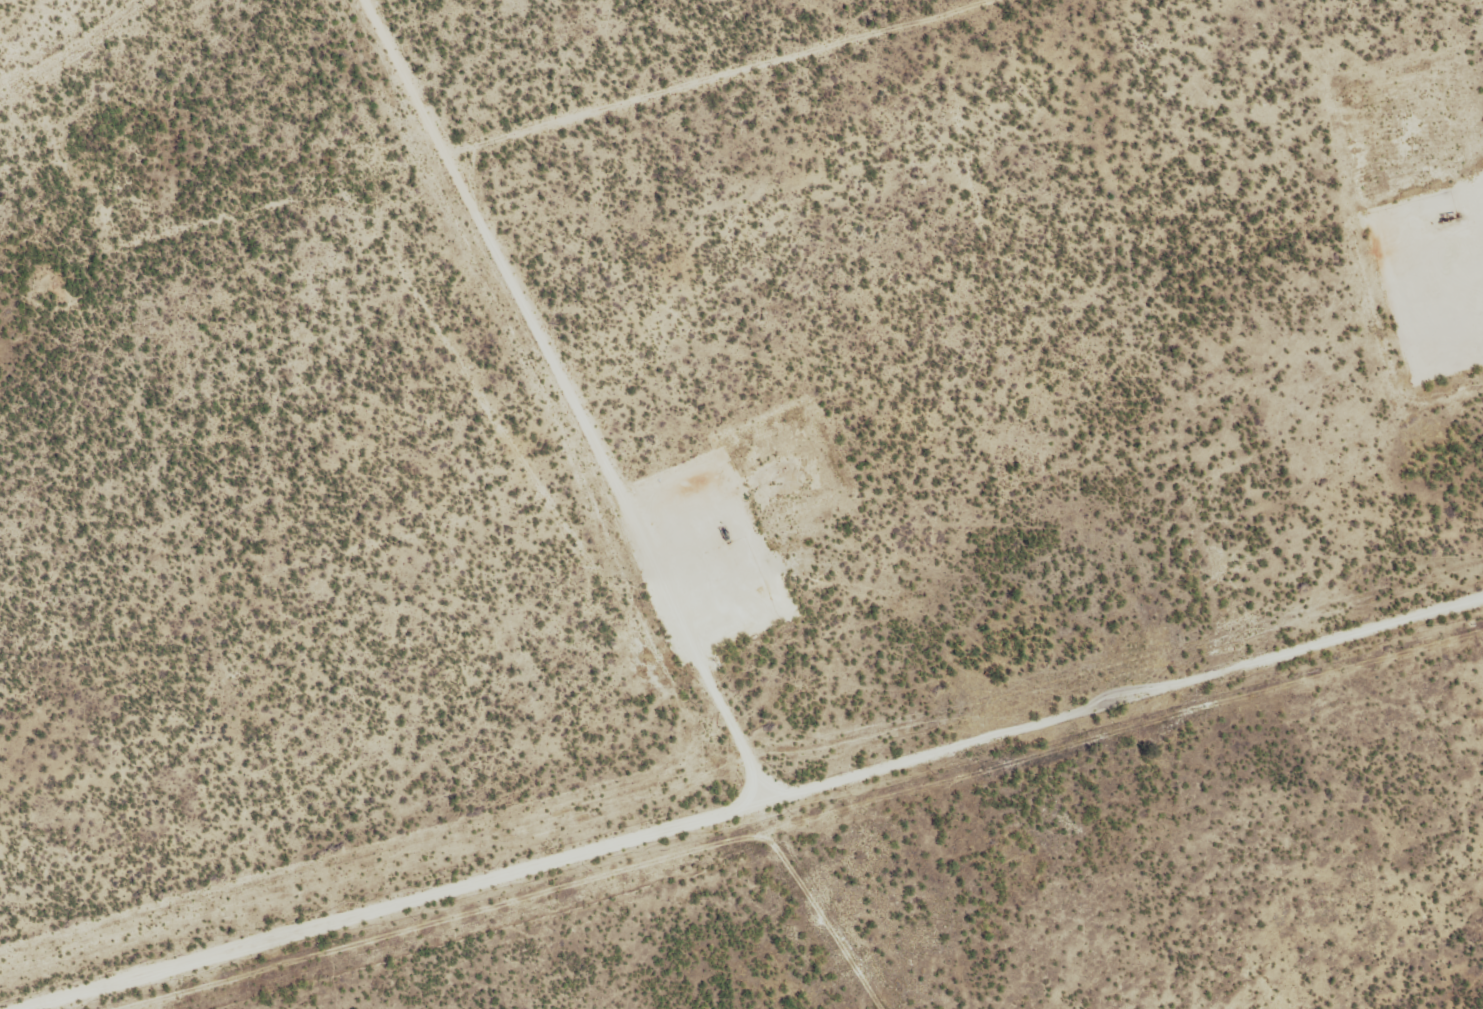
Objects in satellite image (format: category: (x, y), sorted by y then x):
road: (672, 121)

